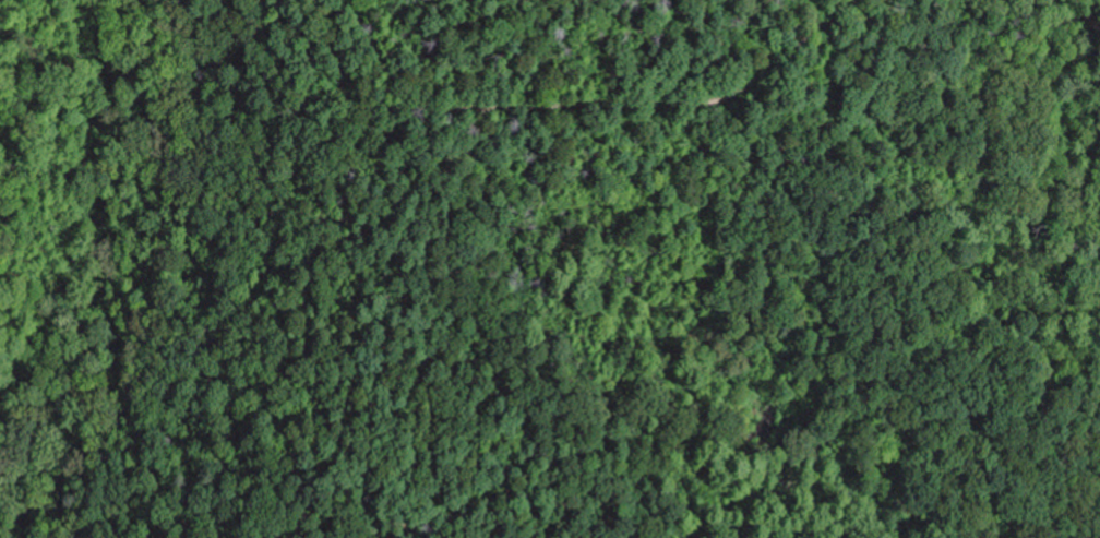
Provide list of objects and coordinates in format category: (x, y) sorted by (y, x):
road: (587, 101)
road: (371, 299)
road: (476, 332)
road: (437, 528)

